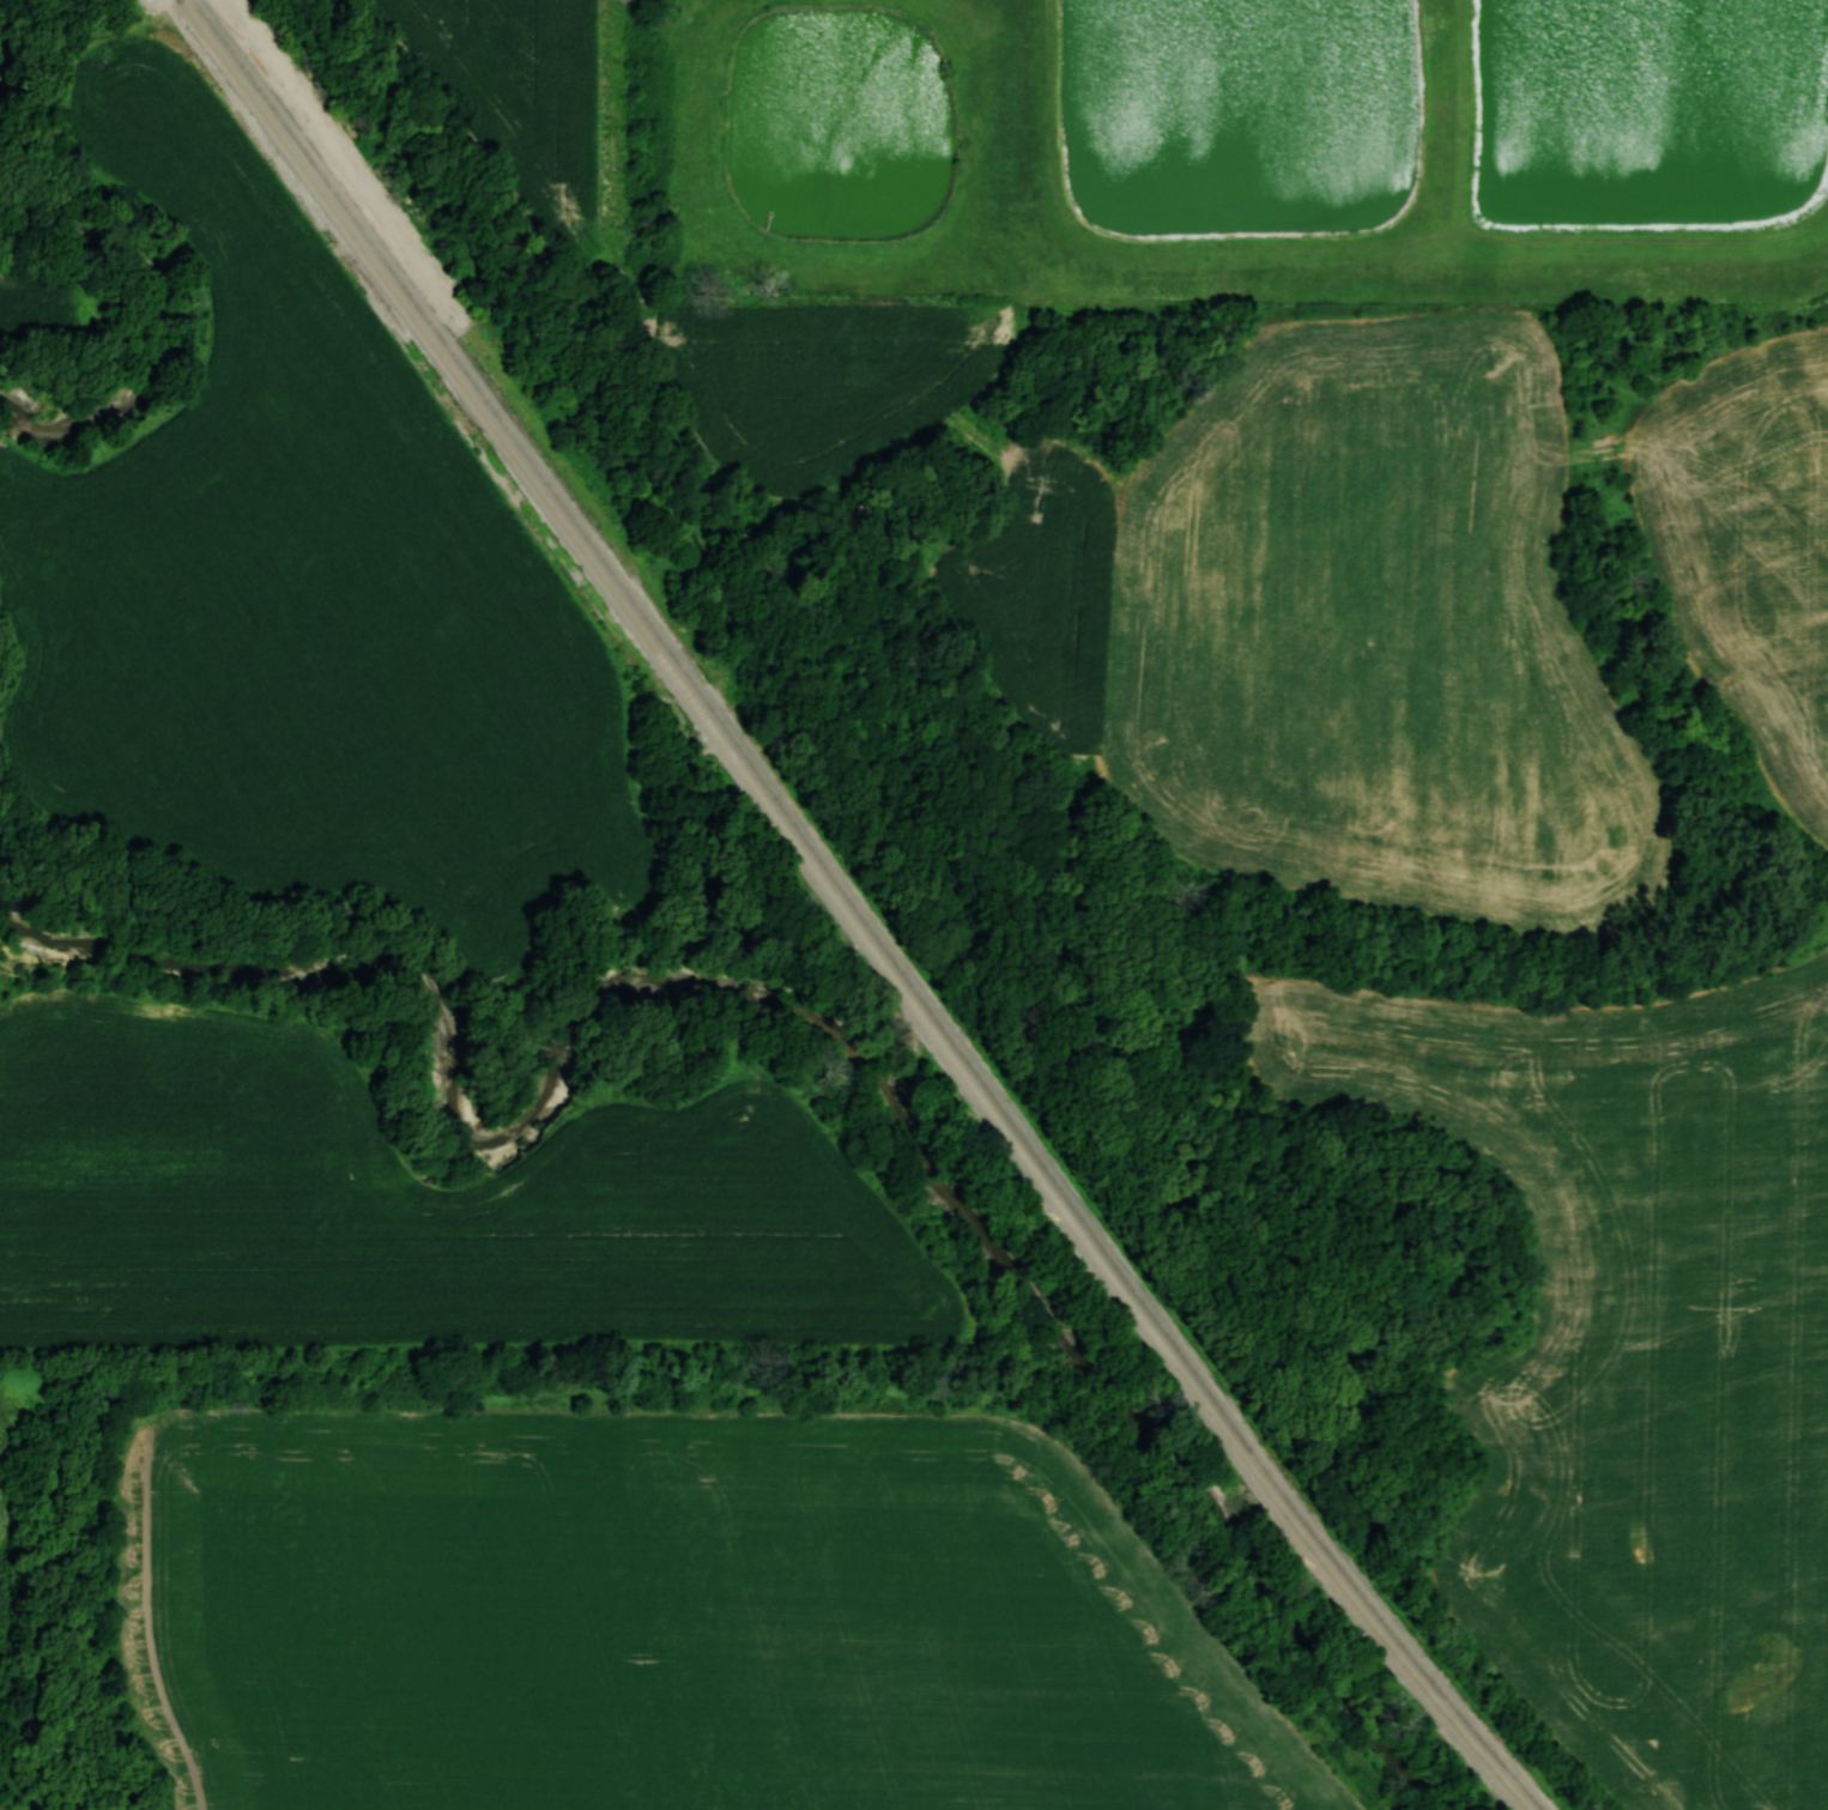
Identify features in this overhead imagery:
railway: (689, 677)
railway: (845, 912)
railway: (1358, 1587)

